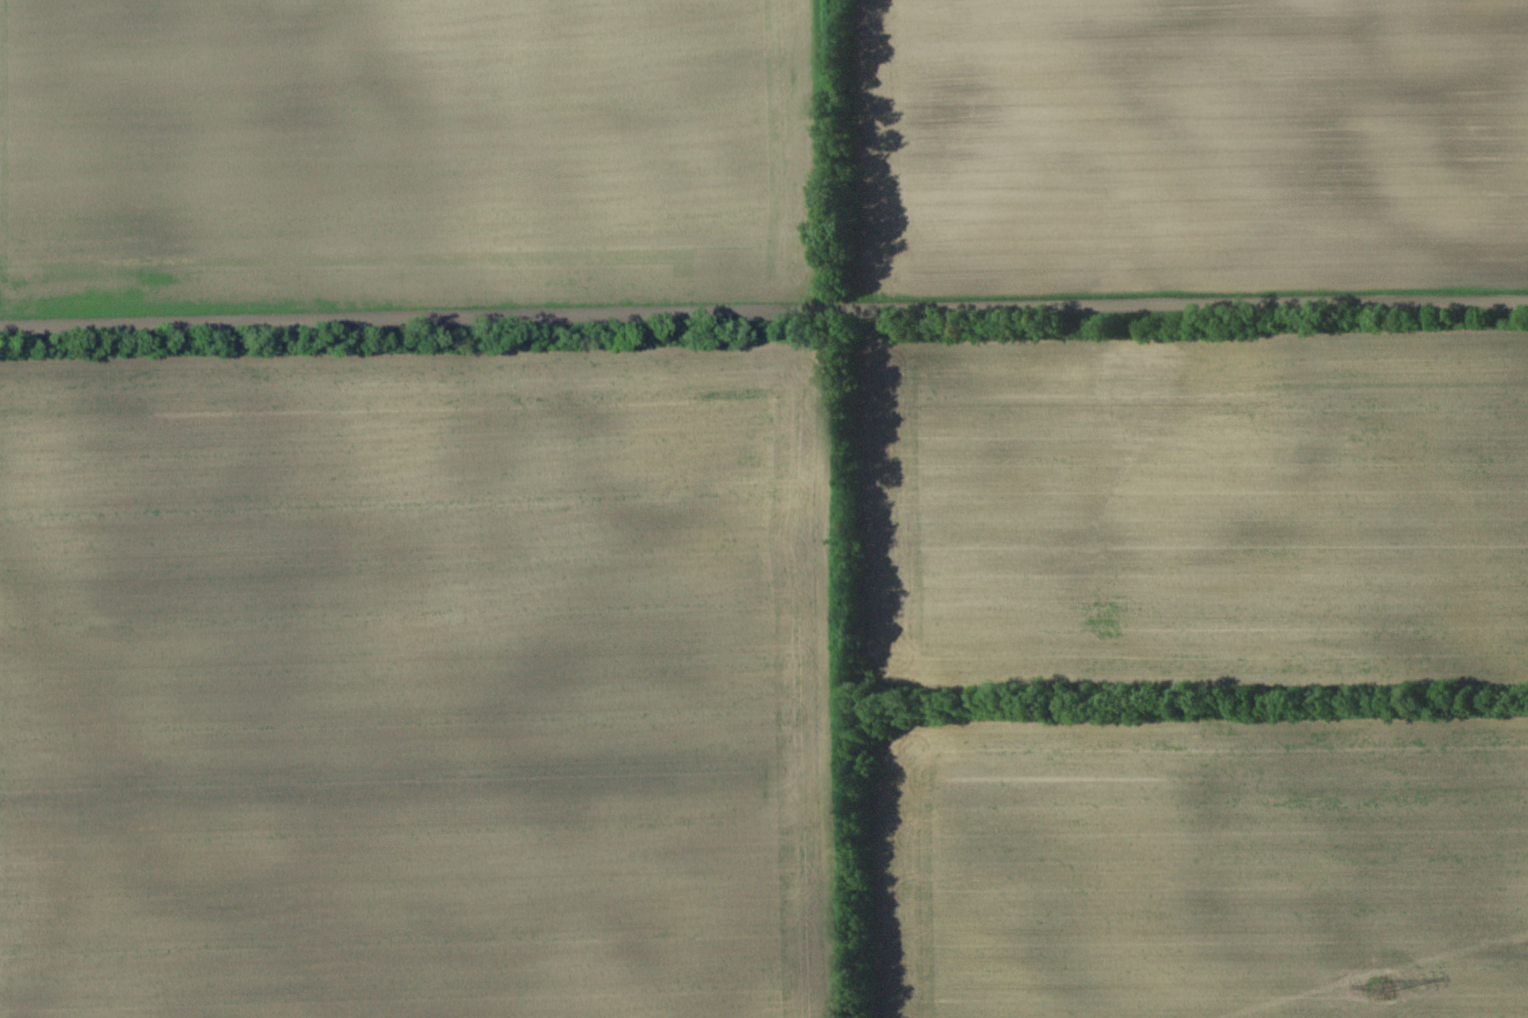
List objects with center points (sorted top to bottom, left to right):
road: (1204, 305)
road: (440, 318)
power tower: (1402, 993)

